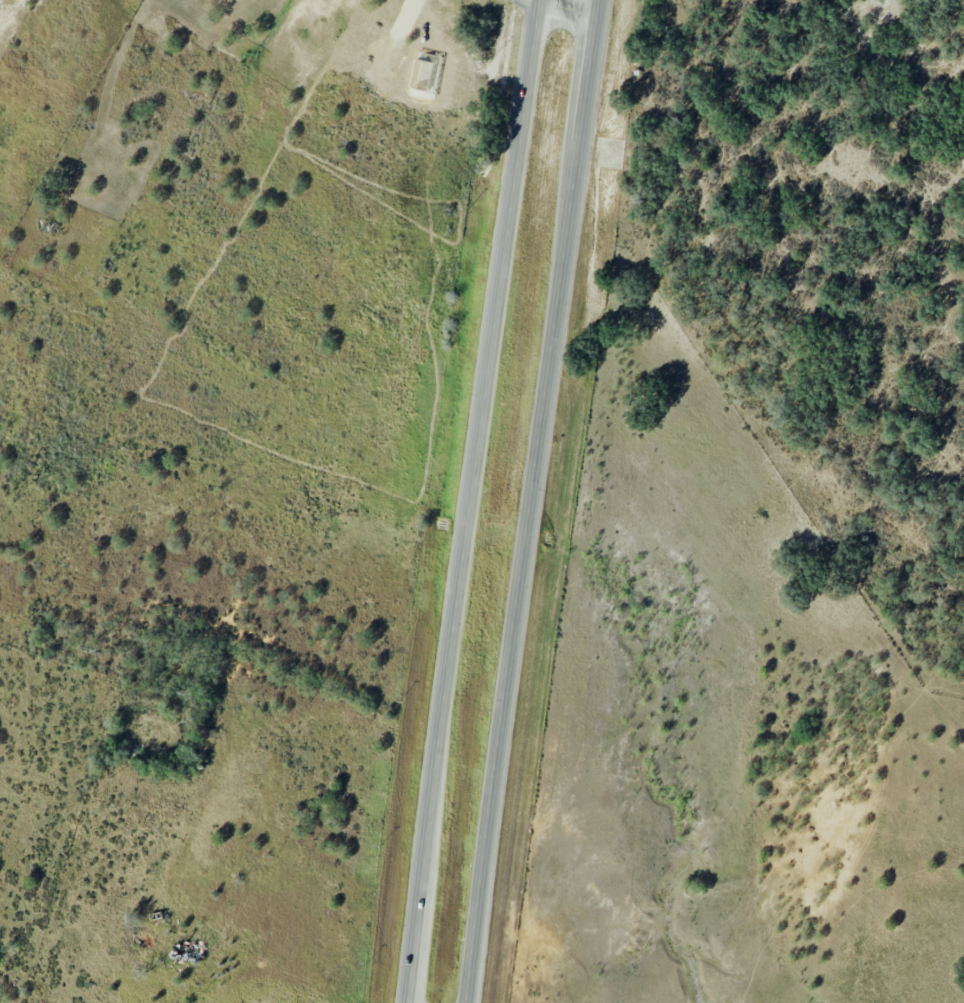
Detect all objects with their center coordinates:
road: (567, 7)
road: (472, 501)
road: (534, 501)

